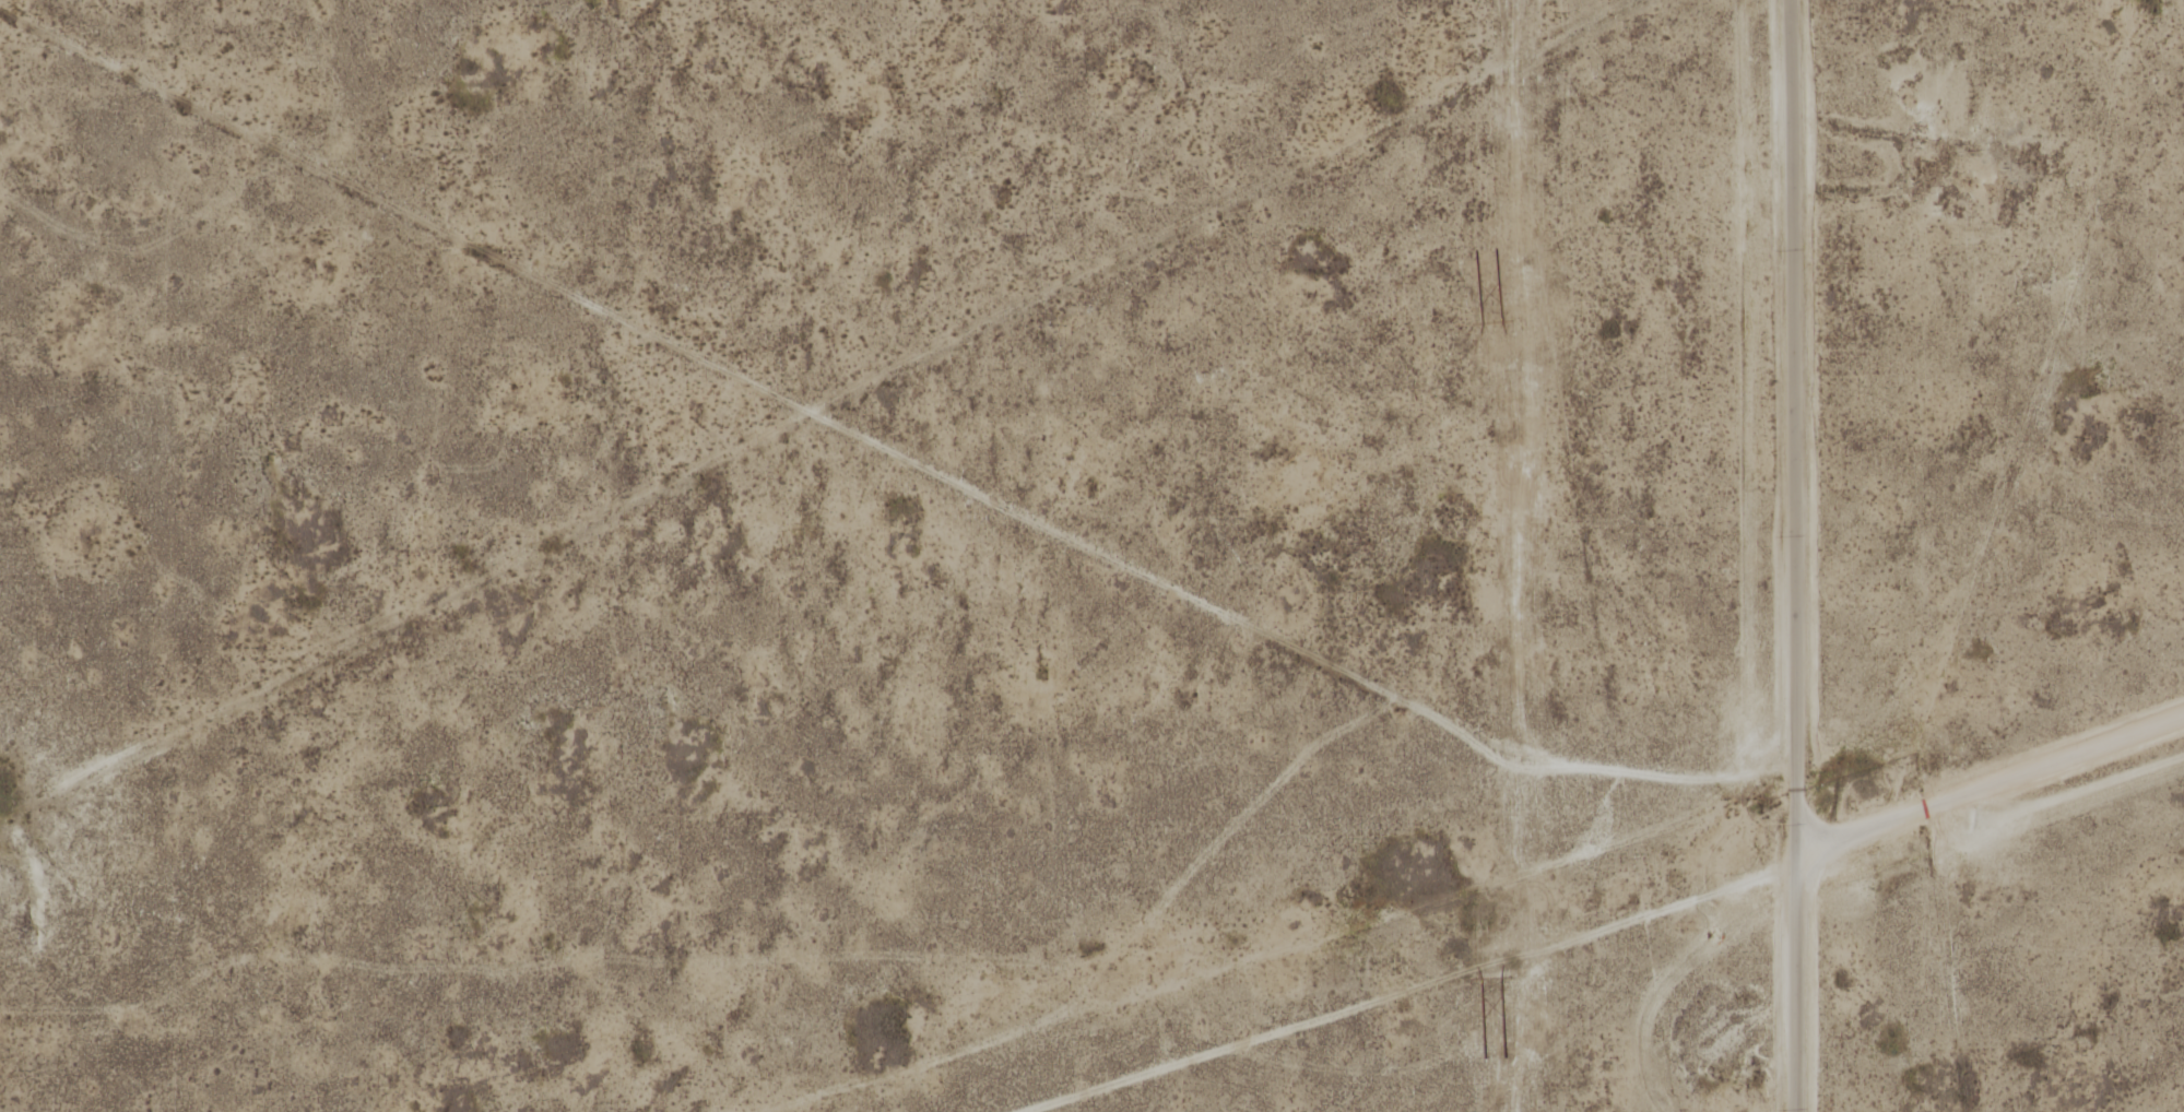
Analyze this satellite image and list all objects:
road: (896, 488)
road: (1793, 555)
road: (1990, 781)

